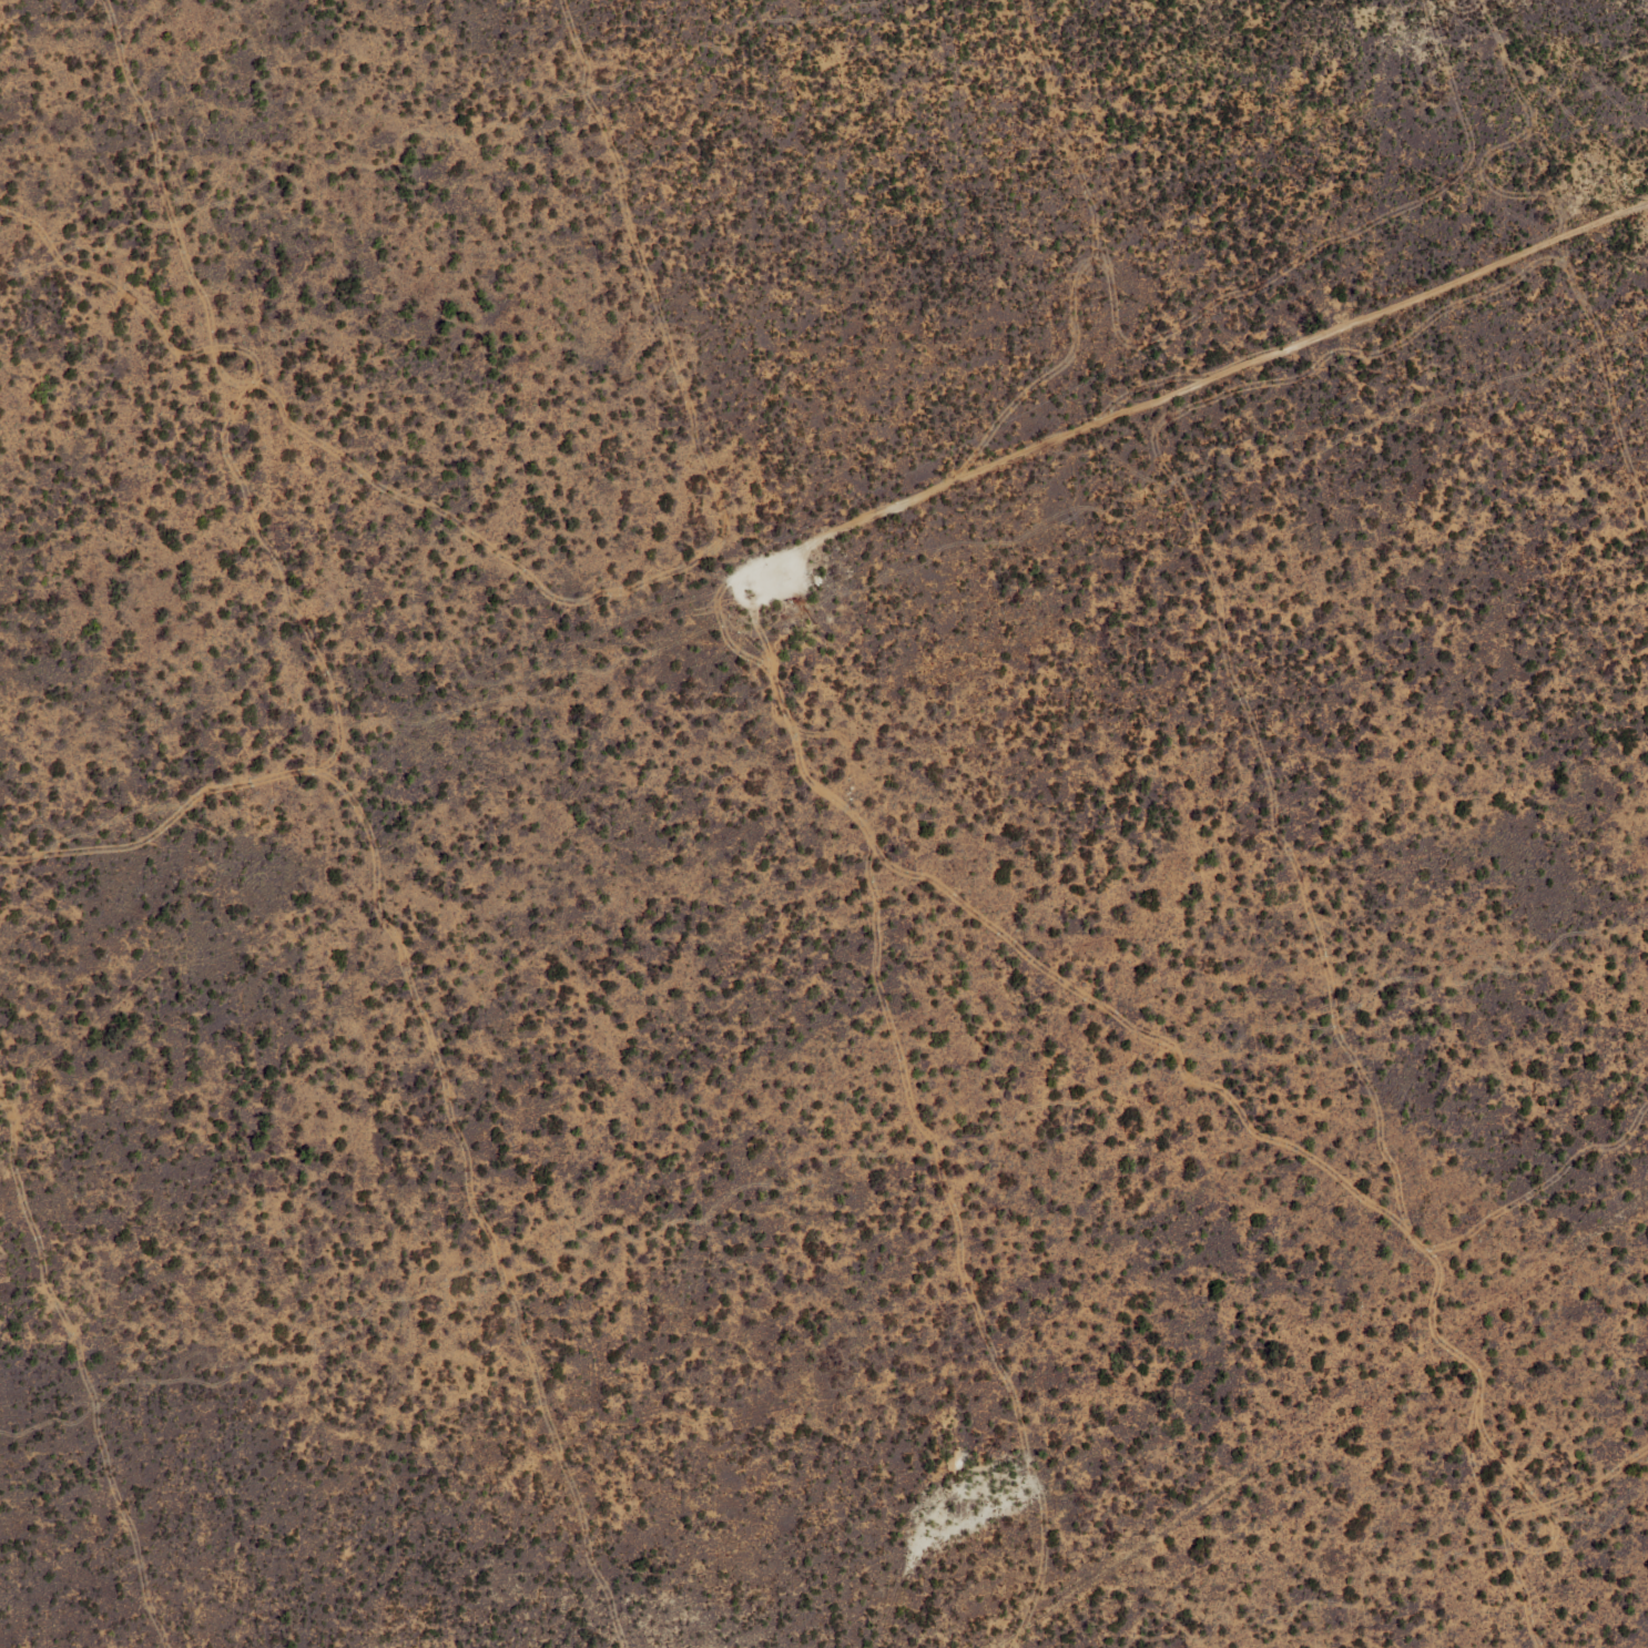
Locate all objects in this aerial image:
road: (236, 224)
road: (1367, 335)
road: (944, 503)
road: (376, 1047)
road: (917, 1610)

